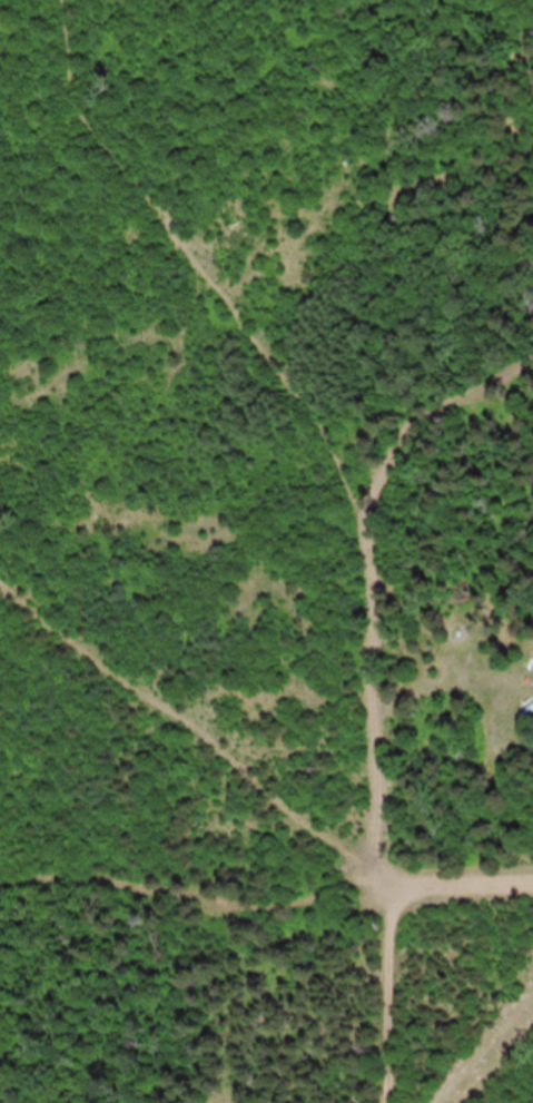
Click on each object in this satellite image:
road: (460, 884)
road: (386, 920)

